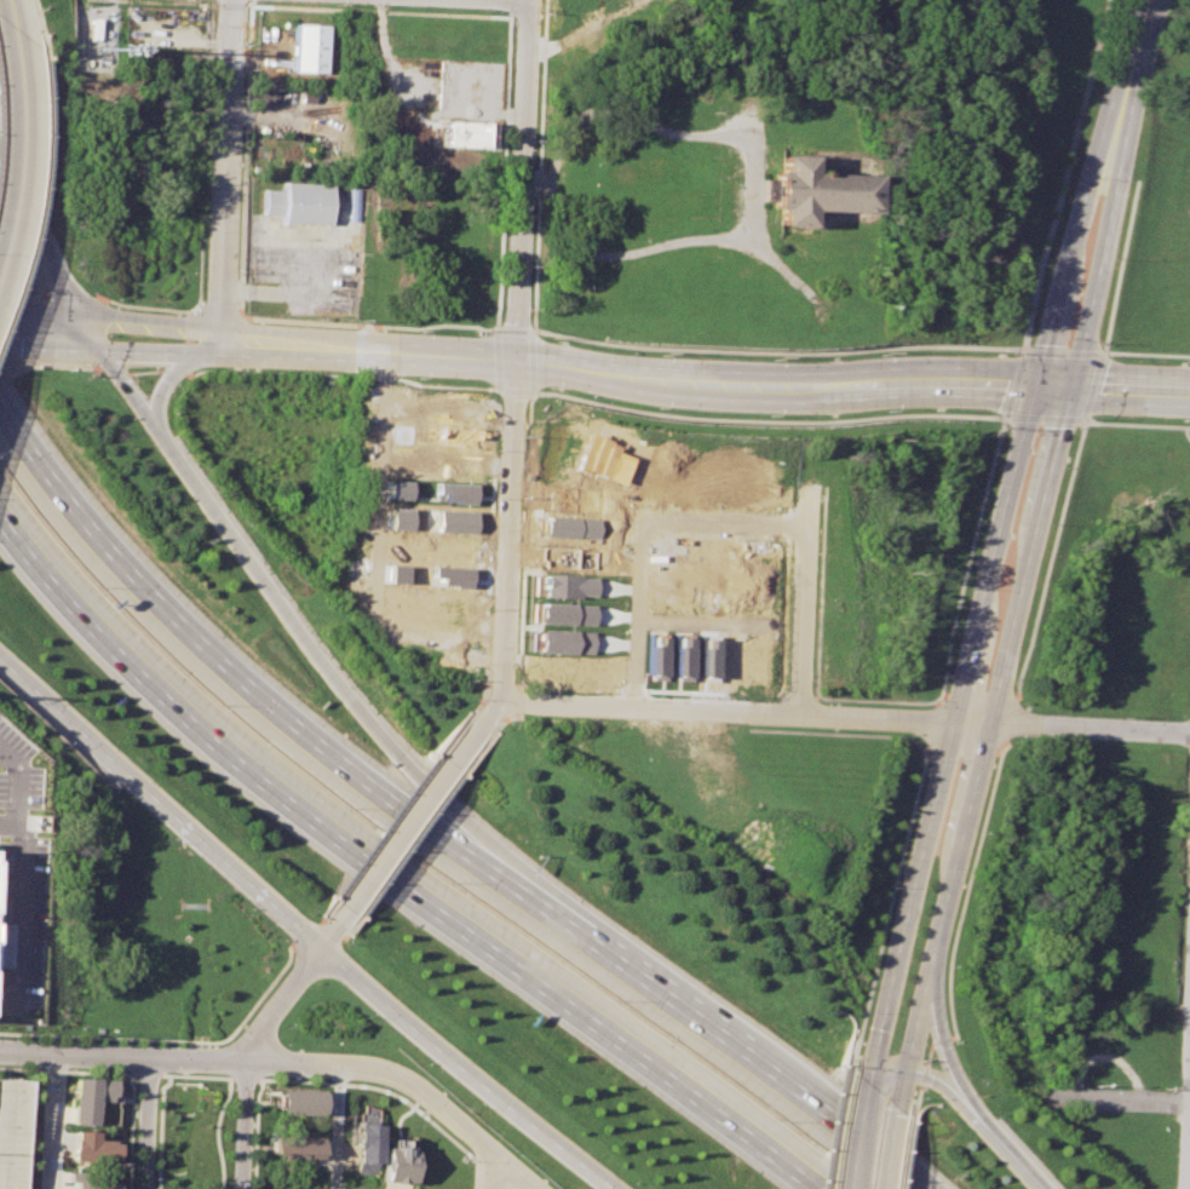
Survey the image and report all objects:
road: (510, 0)
road: (528, 0)
street lamp: (1117, 13)
road: (12, 15)
road: (38, 24)
building: (306, 50)
road: (1131, 76)
street lamp: (1142, 116)
building: (464, 133)
road: (21, 153)
road: (228, 165)
street lamp: (1074, 177)
road: (522, 180)
building: (812, 185)
road: (40, 195)
building: (298, 201)
road: (751, 201)
road: (41, 229)
street lamp: (1114, 258)
street lamp: (79, 260)
road: (1065, 260)
road: (776, 265)
road: (1098, 265)
street lamp: (165, 306)
road: (7, 311)
road: (50, 315)
road: (154, 324)
street lamp: (421, 332)
road: (93, 335)
street lamp: (557, 341)
road: (224, 343)
street lamp: (1099, 343)
road: (370, 344)
road: (17, 347)
road: (69, 350)
street lamp: (1014, 352)
road: (154, 354)
street lamp: (665, 354)
road: (214, 355)
street lamp: (885, 355)
road: (369, 356)
street lamp: (1109, 356)
street lamp: (778, 358)
street lamp: (1182, 361)
street lamp: (86, 371)
street lamp: (236, 373)
street lamp: (418, 378)
road: (1056, 379)
traffic signals: (1073, 379)
traffic signals: (1039, 380)
road: (1131, 381)
road: (166, 383)
street lamp: (550, 387)
road: (131, 390)
road: (776, 390)
street lamp: (663, 407)
street lamp: (892, 410)
street lamp: (995, 414)
street lamp: (776, 415)
street lamp: (1091, 418)
street lamp: (1178, 419)
street lamp: (1006, 427)
street lamp: (524, 437)
road: (364, 477)
building: (401, 489)
building: (455, 492)
road: (507, 539)
road: (644, 547)
building: (562, 588)
road: (804, 602)
building: (564, 642)
road: (320, 648)
road: (214, 650)
building: (656, 656)
building: (682, 657)
road: (845, 720)
road: (990, 725)
road: (952, 730)
road: (414, 820)
road: (7, 825)
road: (393, 869)
road: (19, 875)
road: (300, 927)
building: (2, 944)
road: (286, 990)
road: (717, 1016)
road: (180, 1040)
road: (945, 1044)
road: (258, 1064)
traffic signals: (875, 1069)
road: (891, 1070)
traffic signals: (908, 1072)
road: (122, 1073)
road: (195, 1075)
road: (346, 1085)
road: (904, 1089)
road: (954, 1093)
building: (87, 1095)
road: (1120, 1102)
building: (299, 1104)
road: (51, 1122)
road: (148, 1125)
road: (241, 1126)
park: (194, 1128)
road: (160, 1130)
road: (335, 1130)
building: (12, 1132)
parking garage: (12, 1132)
road: (217, 1132)
road: (861, 1135)
building: (94, 1147)
road: (892, 1147)
building: (294, 1148)
building: (362, 1148)
road: (1017, 1160)
building: (395, 1165)
road: (483, 1170)
road: (511, 1170)
building: (91, 1179)

